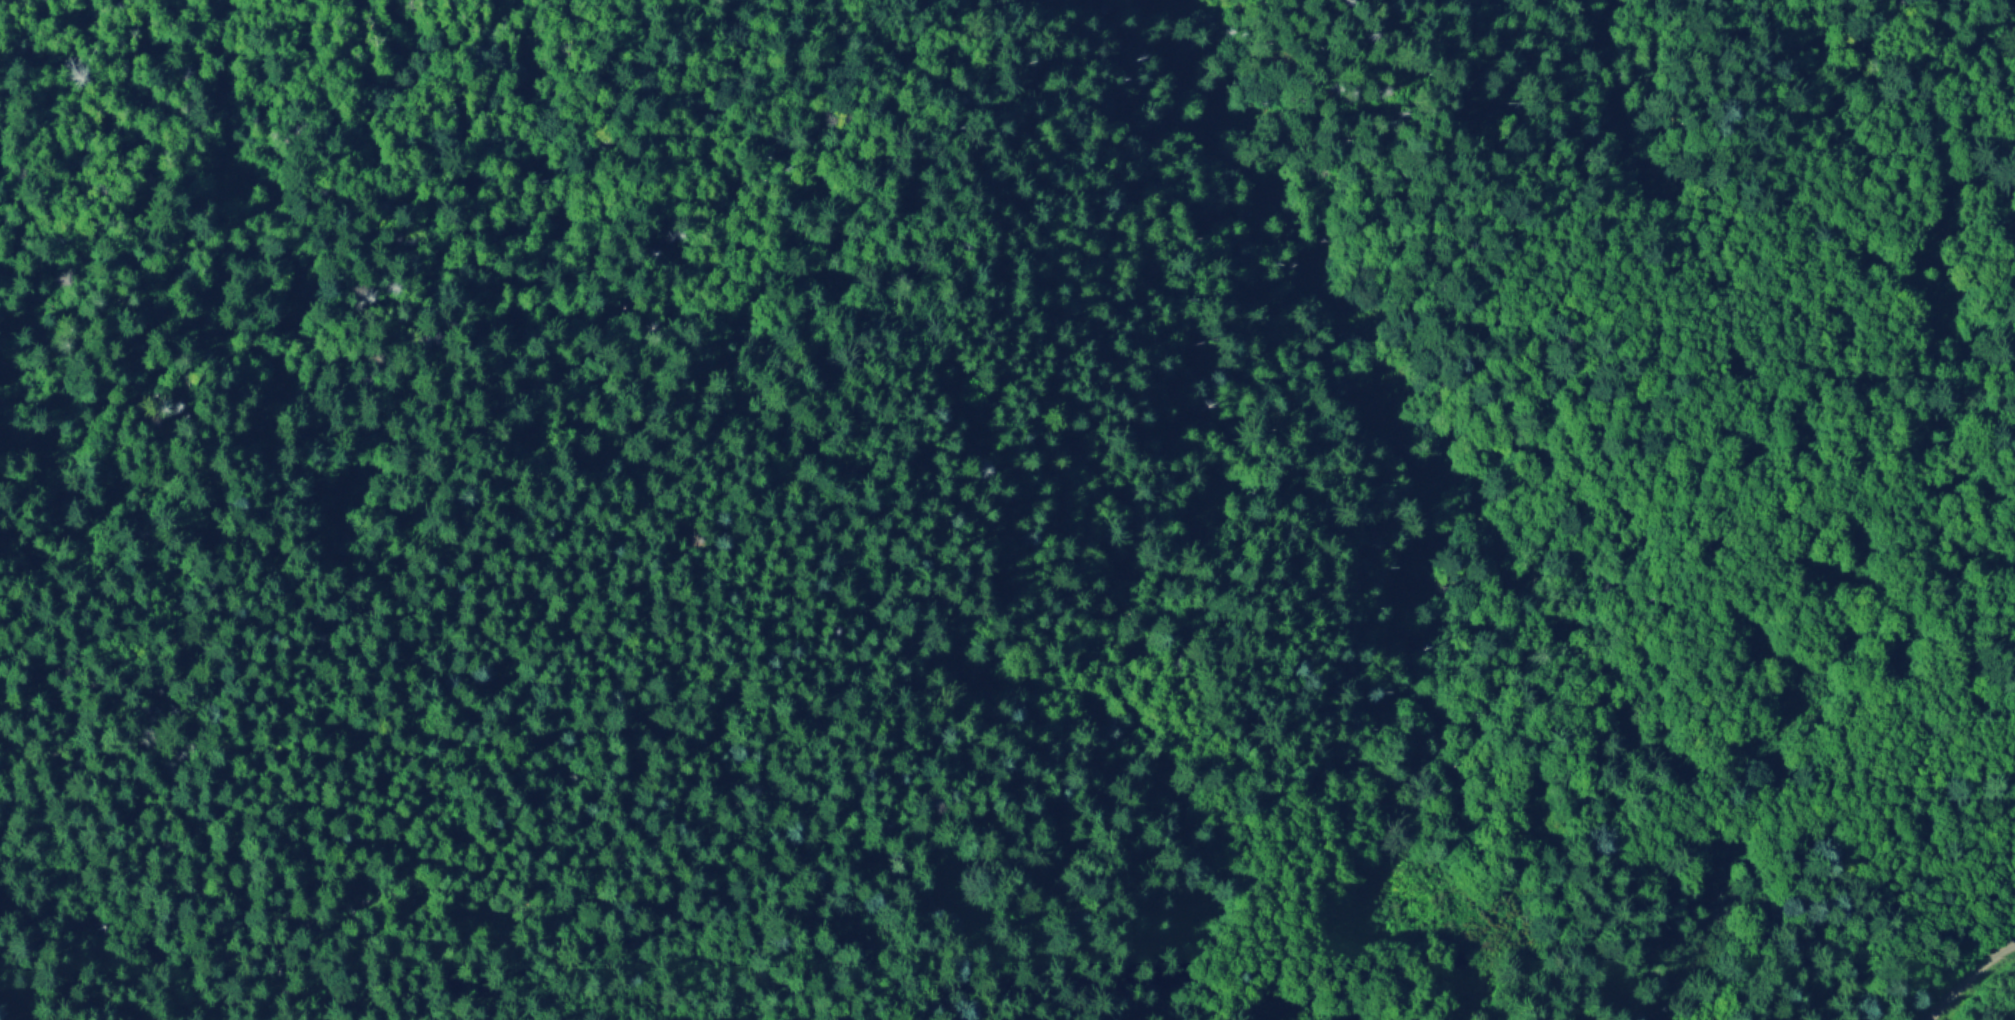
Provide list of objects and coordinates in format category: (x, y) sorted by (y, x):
road: (1968, 977)

